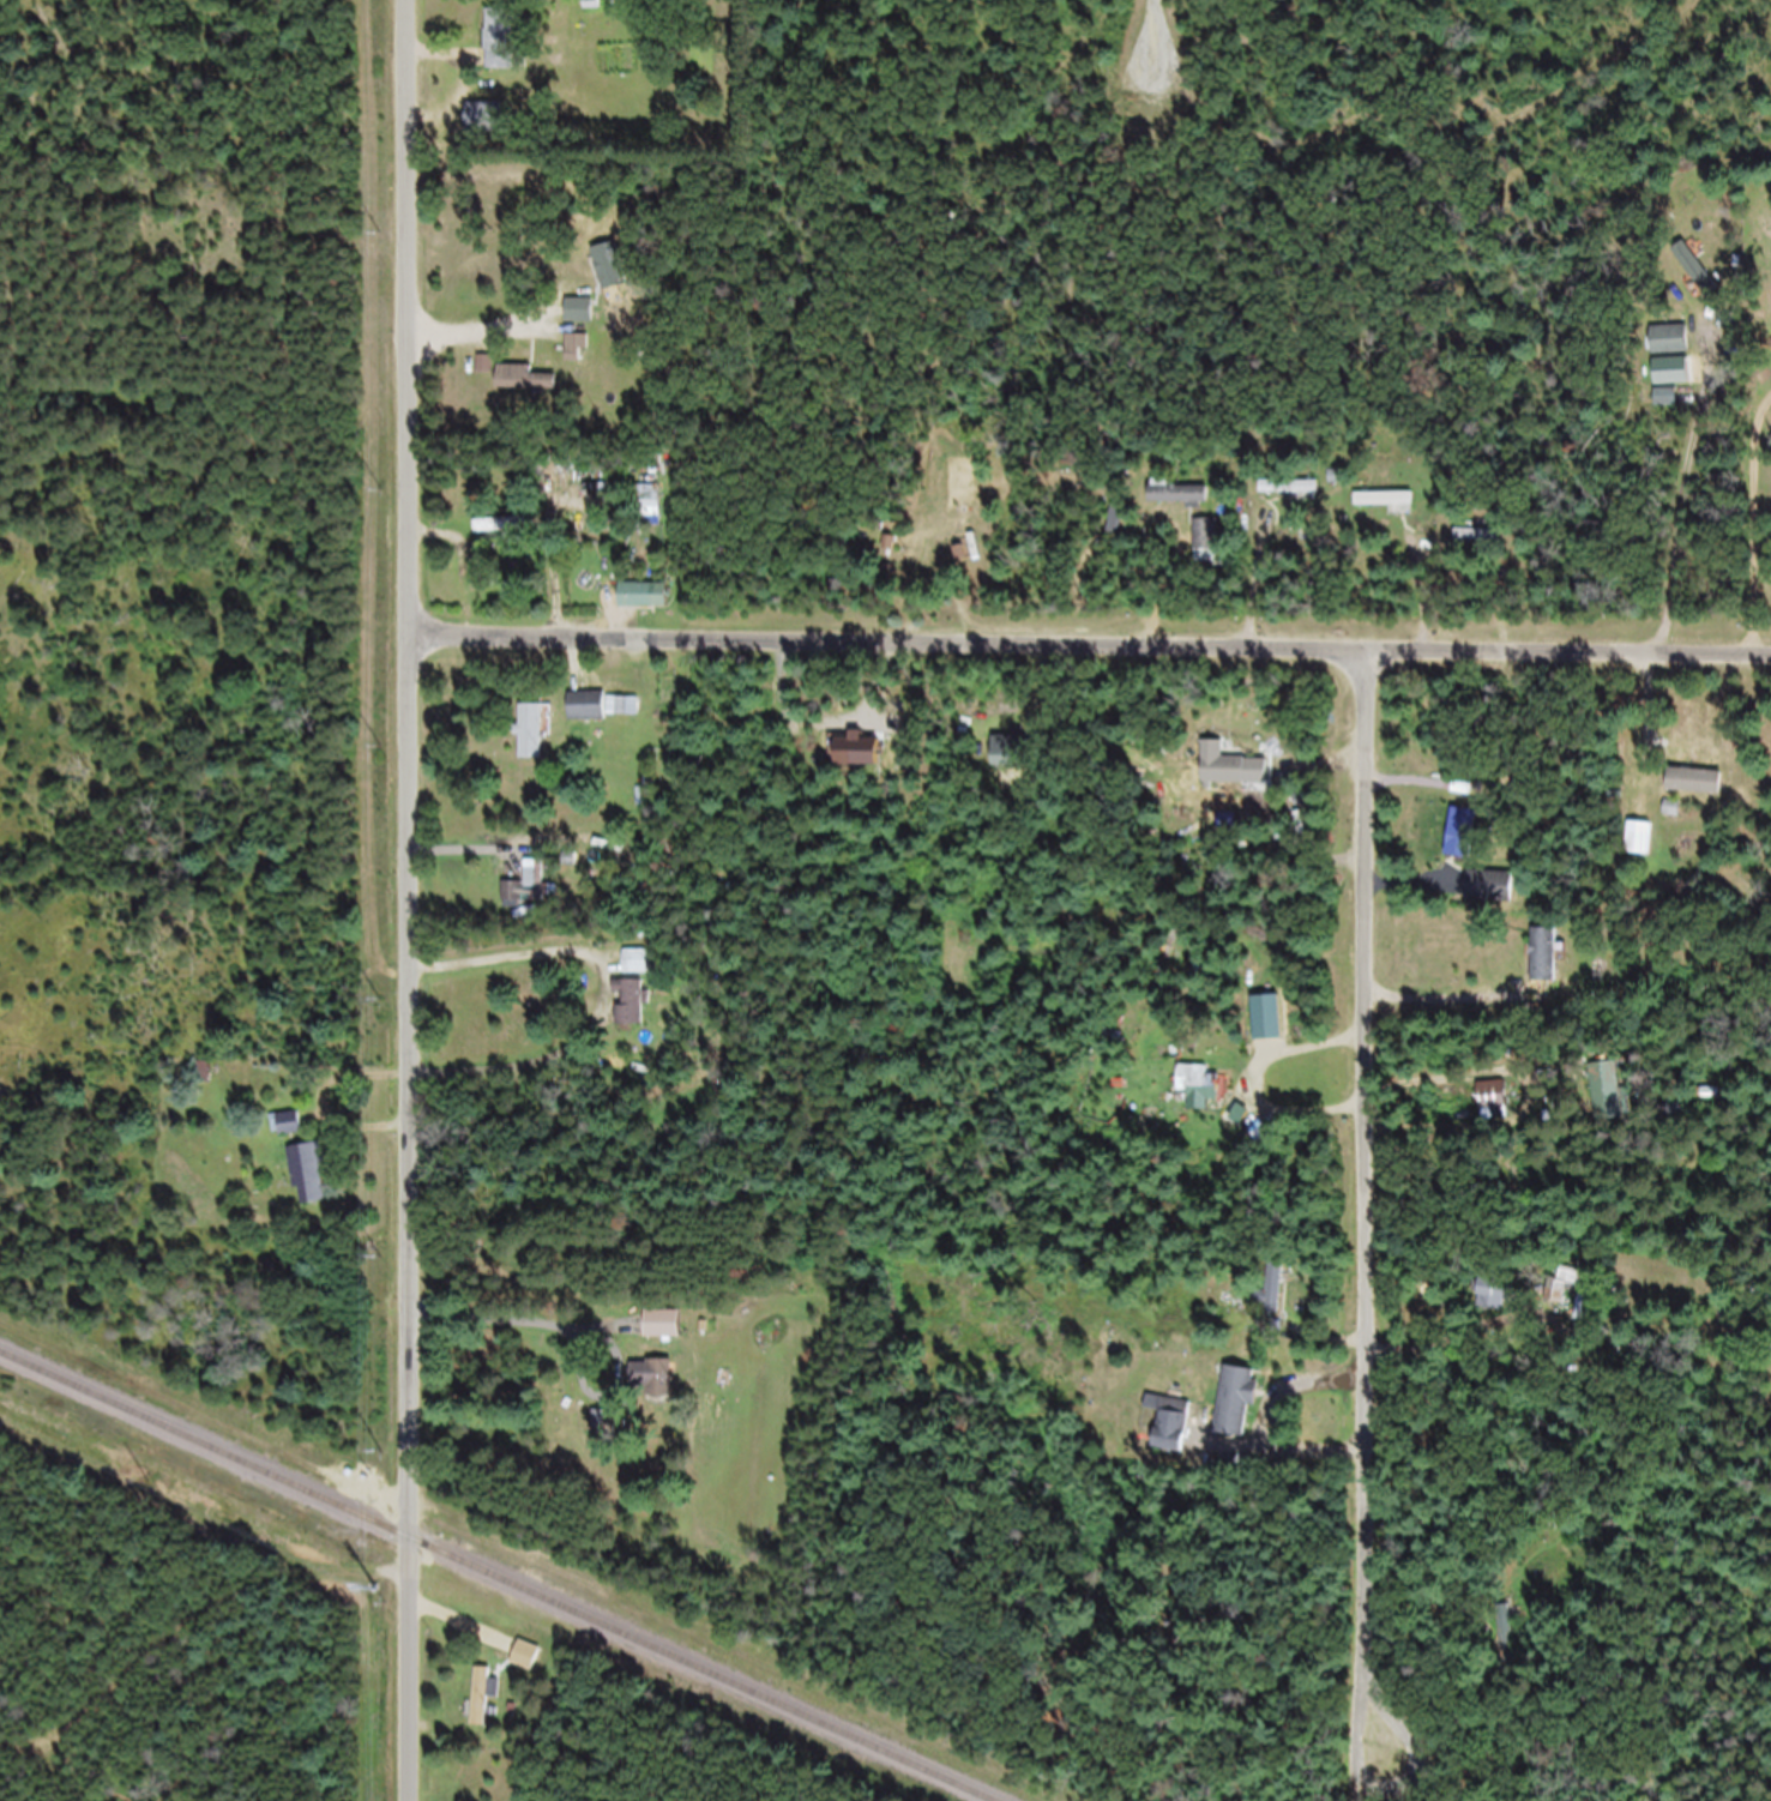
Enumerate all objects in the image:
building: (591, 14)
building: (496, 52)
road: (1151, 54)
building: (483, 126)
building: (1722, 261)
building: (612, 277)
building: (1693, 278)
building: (1676, 350)
building: (524, 390)
building: (1336, 488)
building: (1291, 500)
building: (1176, 505)
building: (1385, 511)
building: (647, 512)
building: (500, 537)
building: (1207, 546)
building: (1476, 548)
building: (639, 606)
road: (1089, 657)
building: (603, 717)
building: (529, 743)
building: (1001, 763)
building: (1218, 776)
building: (1691, 793)
building: (1459, 845)
building: (1637, 850)
building: (526, 896)
building: (1489, 898)
road: (409, 900)
building: (1542, 966)
building: (635, 972)
road: (1442, 993)
building: (630, 1014)
building: (1114, 1047)
building: (1194, 1089)
building: (1234, 1128)
building: (288, 1137)
building: (307, 1185)
road: (1362, 1213)
road: (201, 1285)
building: (1566, 1297)
building: (1269, 1303)
building: (1489, 1305)
road: (526, 1315)
building: (662, 1336)
building: (651, 1390)
building: (1234, 1414)
building: (1170, 1436)
railway: (484, 1580)
building: (1508, 1640)
building: (484, 1706)

